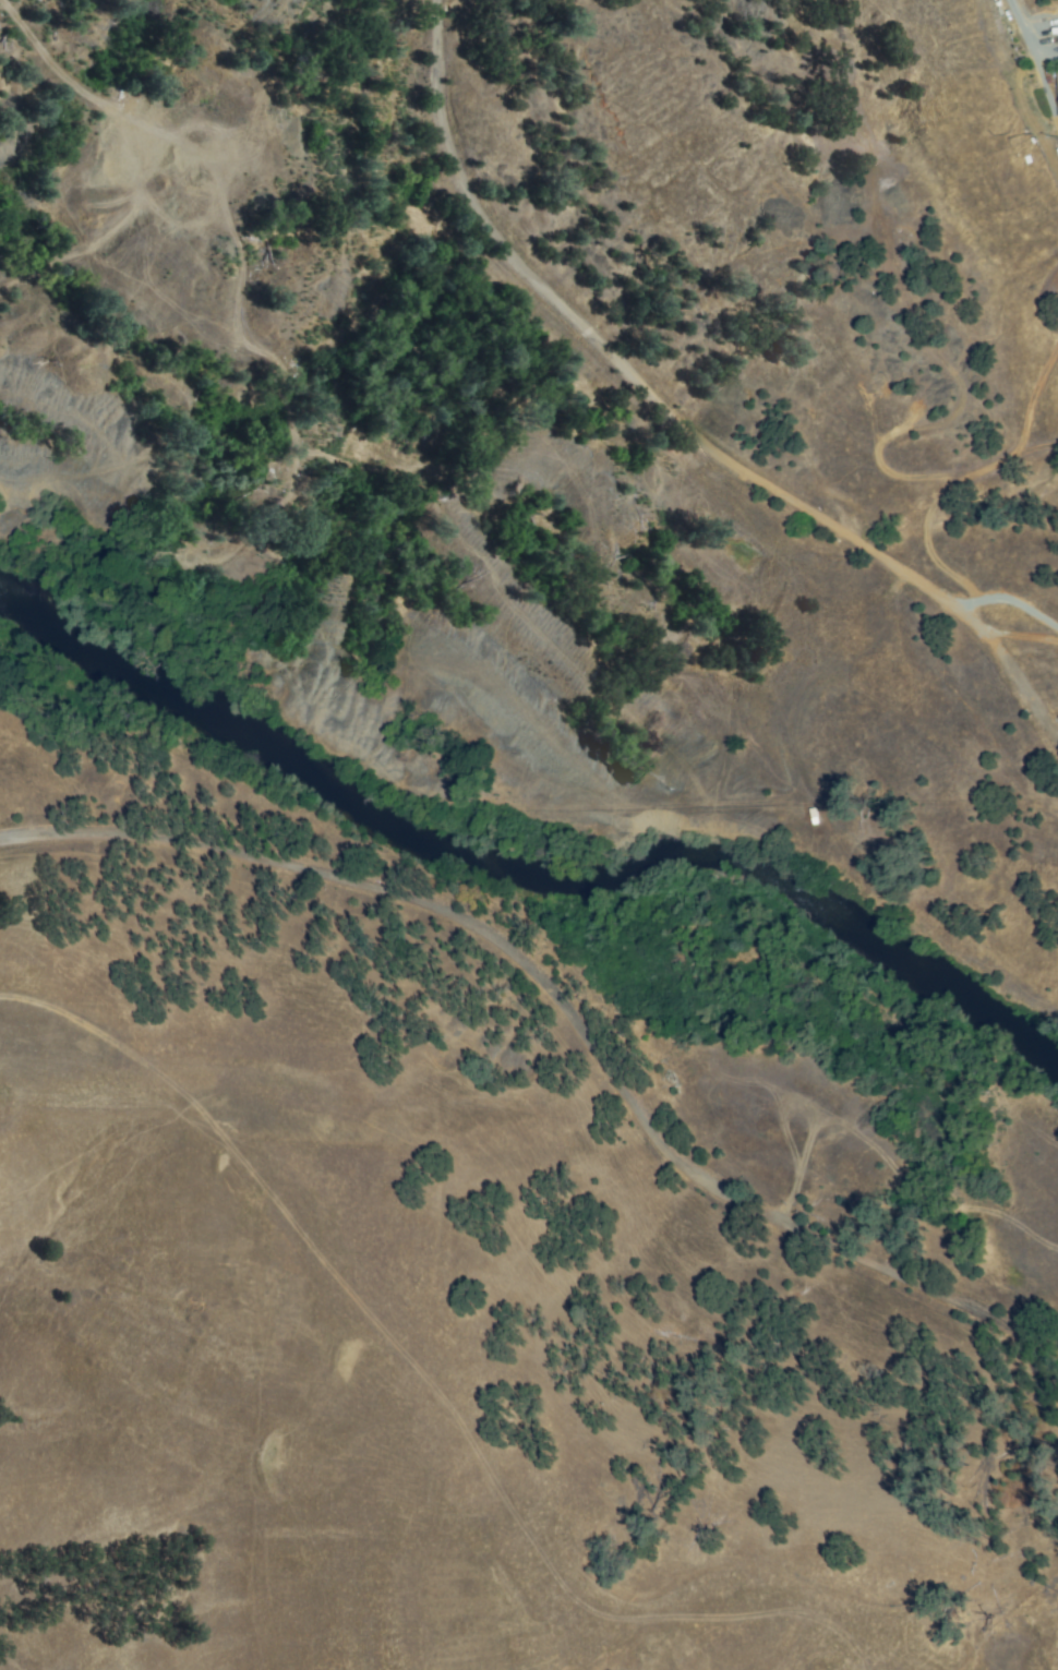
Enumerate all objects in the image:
road: (1019, 23)
building: (1056, 93)
road: (674, 421)
river: (526, 892)
road: (566, 1009)

